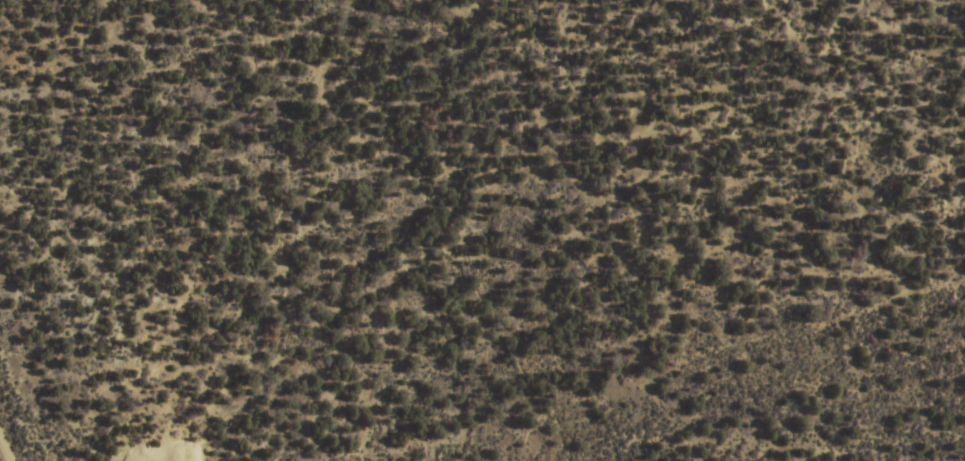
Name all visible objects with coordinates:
road: (1, 458)

